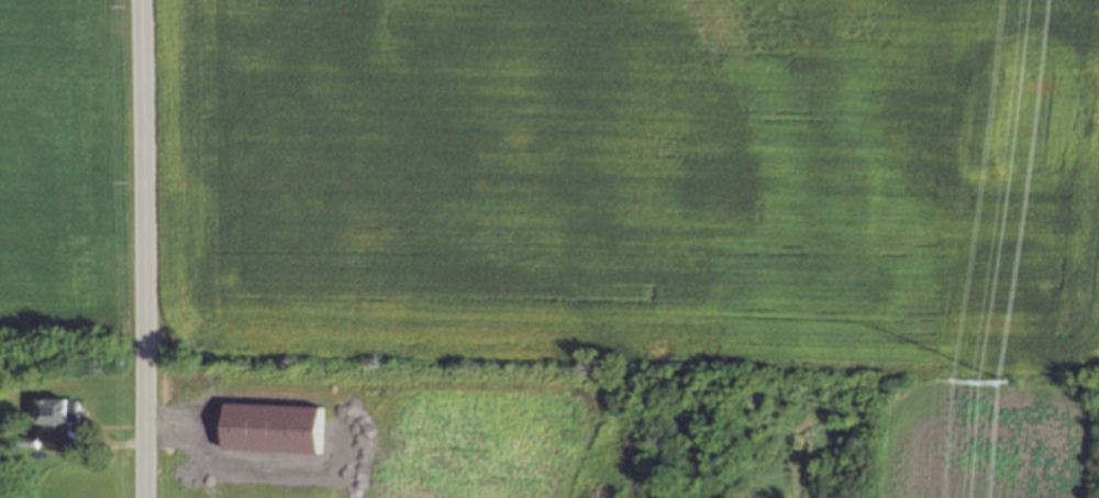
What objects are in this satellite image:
crop: (65, 169)
road: (132, 248)
power tower: (997, 379)
building: (53, 408)
building: (273, 427)
building: (29, 440)

